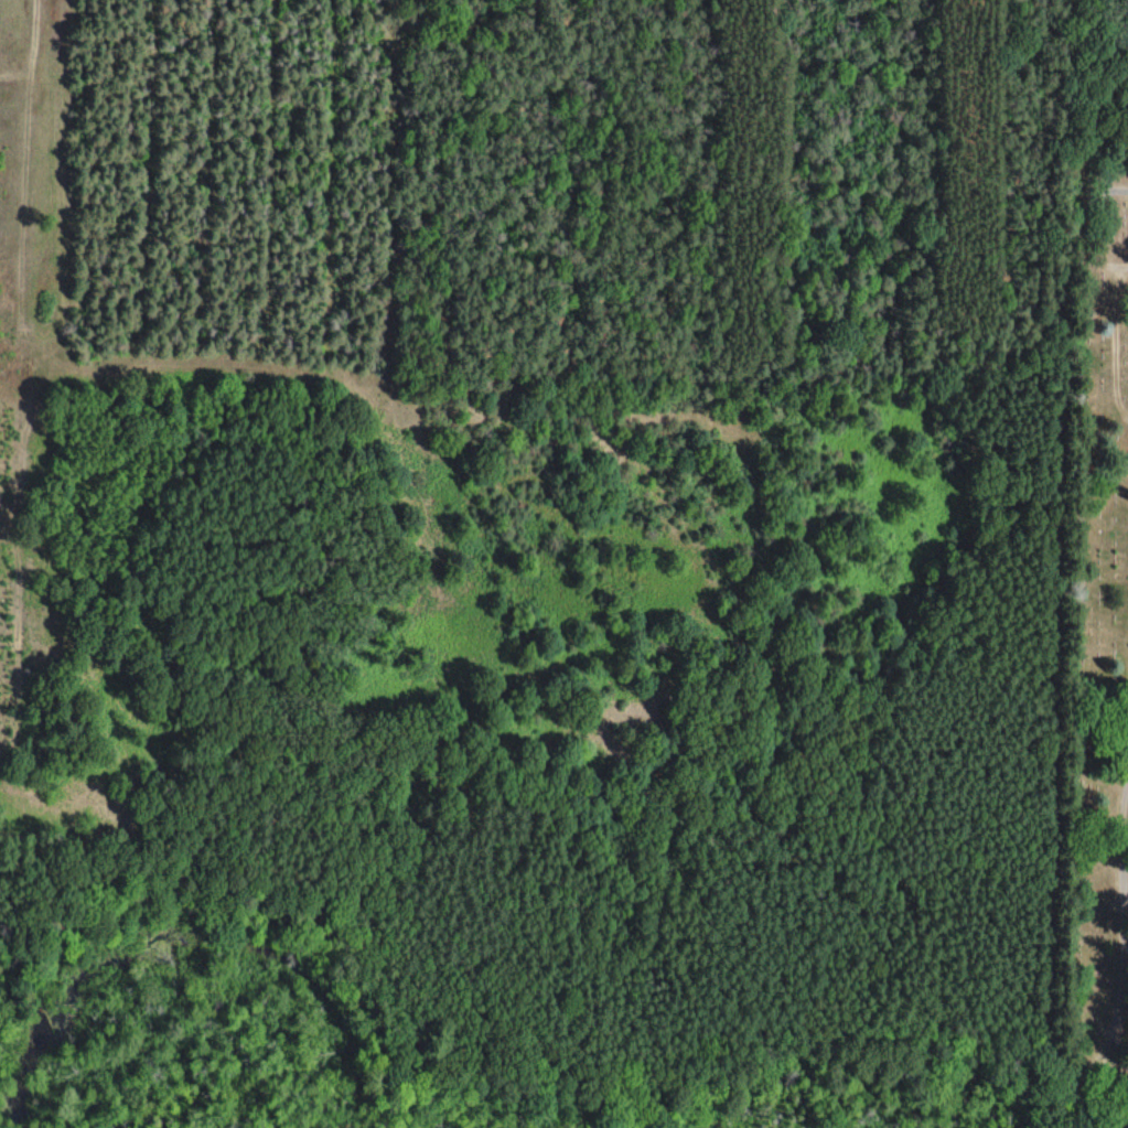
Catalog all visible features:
road: (1117, 192)
park: (1095, 643)
road: (1127, 860)

